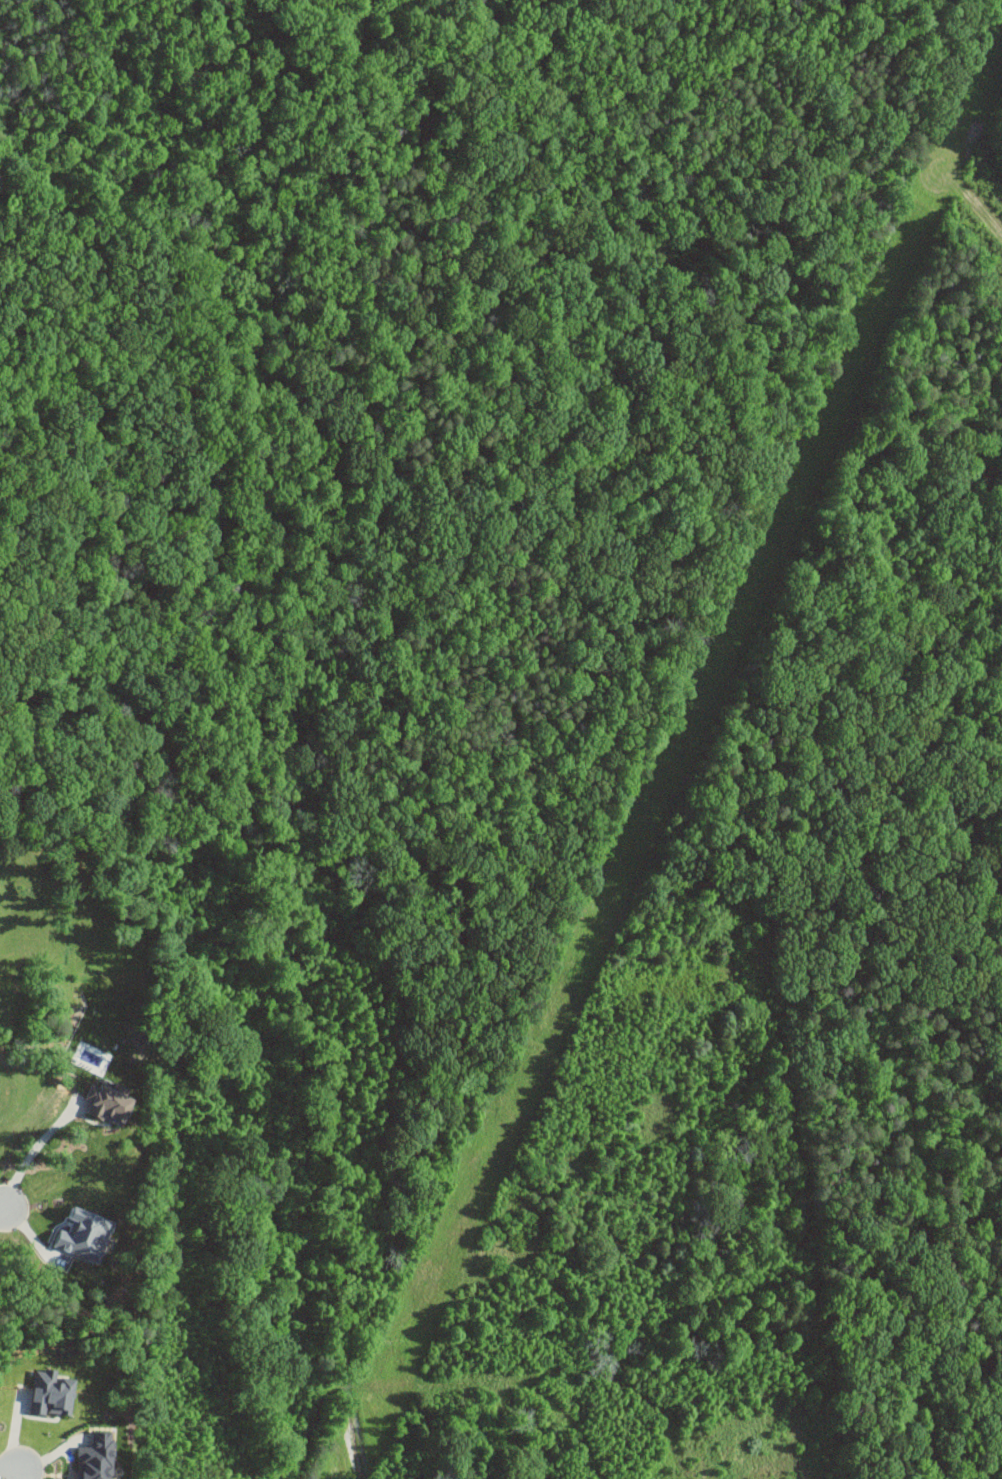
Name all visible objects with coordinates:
building: (109, 1102)
road: (29, 1155)
park: (478, 1180)
road: (2, 1214)
building: (85, 1235)
road: (441, 1384)
building: (52, 1393)
building: (97, 1457)
road: (11, 1475)

